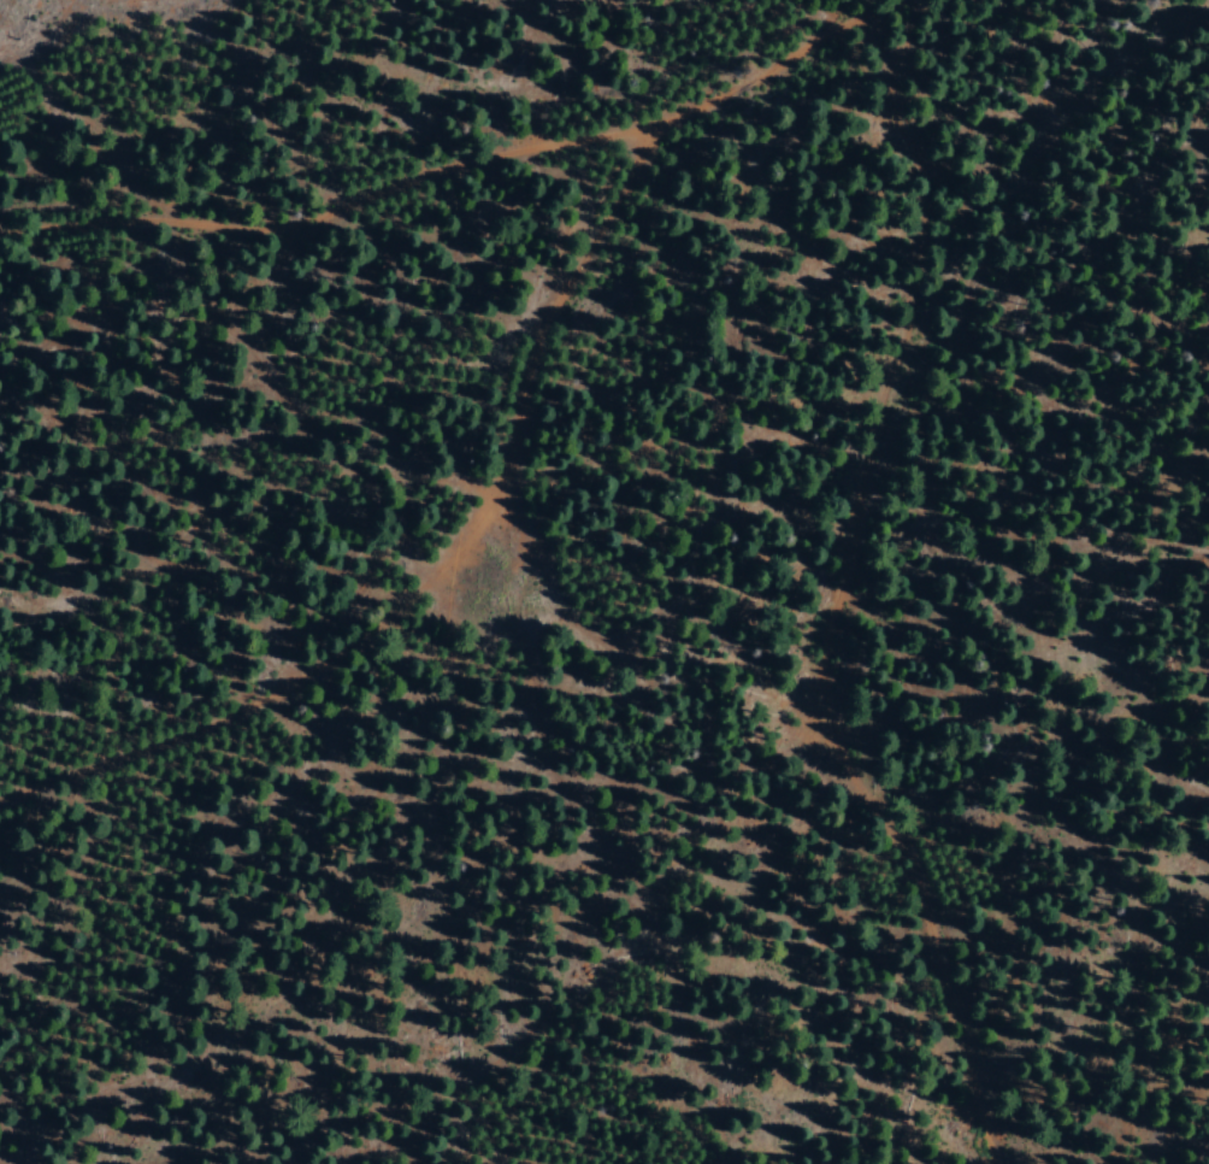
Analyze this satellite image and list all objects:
road: (477, 207)
road: (896, 589)

